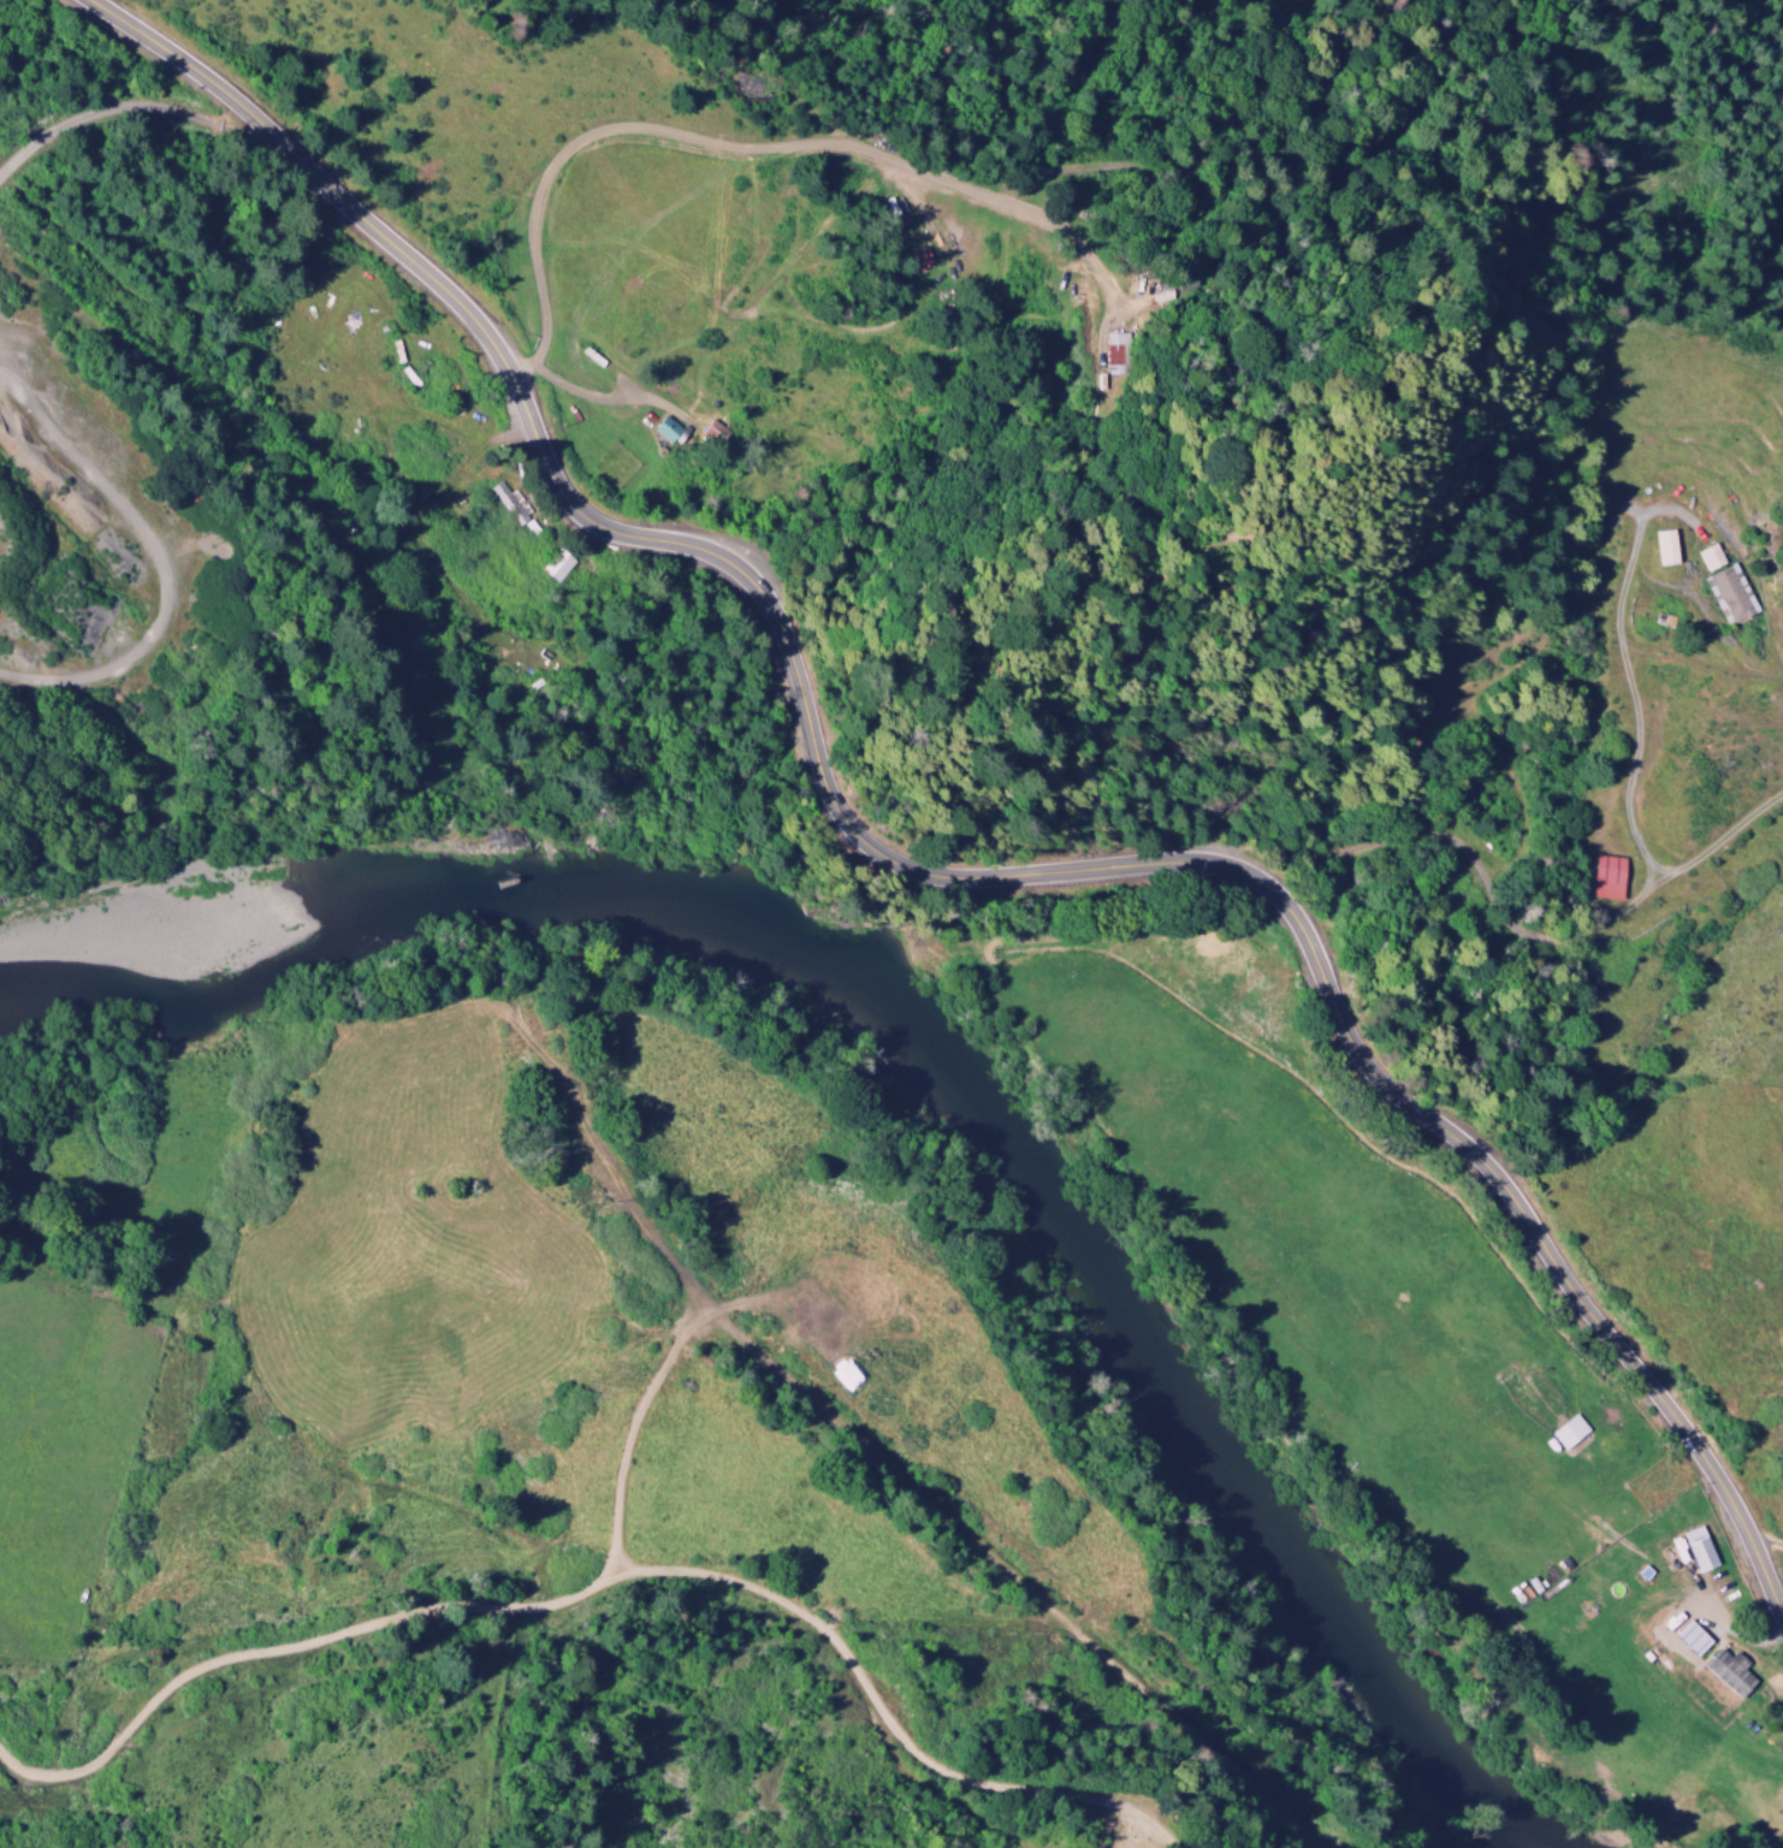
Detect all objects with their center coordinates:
building: (919, 261)
building: (1114, 350)
building: (665, 432)
building: (712, 433)
road: (115, 502)
building: (511, 507)
building: (1663, 547)
building: (1710, 557)
building: (556, 567)
railway: (342, 577)
building: (1728, 594)
building: (1605, 877)
road: (913, 878)
river: (938, 1065)
road: (600, 1165)
building: (1566, 1433)
building: (1698, 1550)
road: (1005, 1576)
road: (789, 1607)
building: (1689, 1639)
road: (288, 1647)
building: (1728, 1674)

